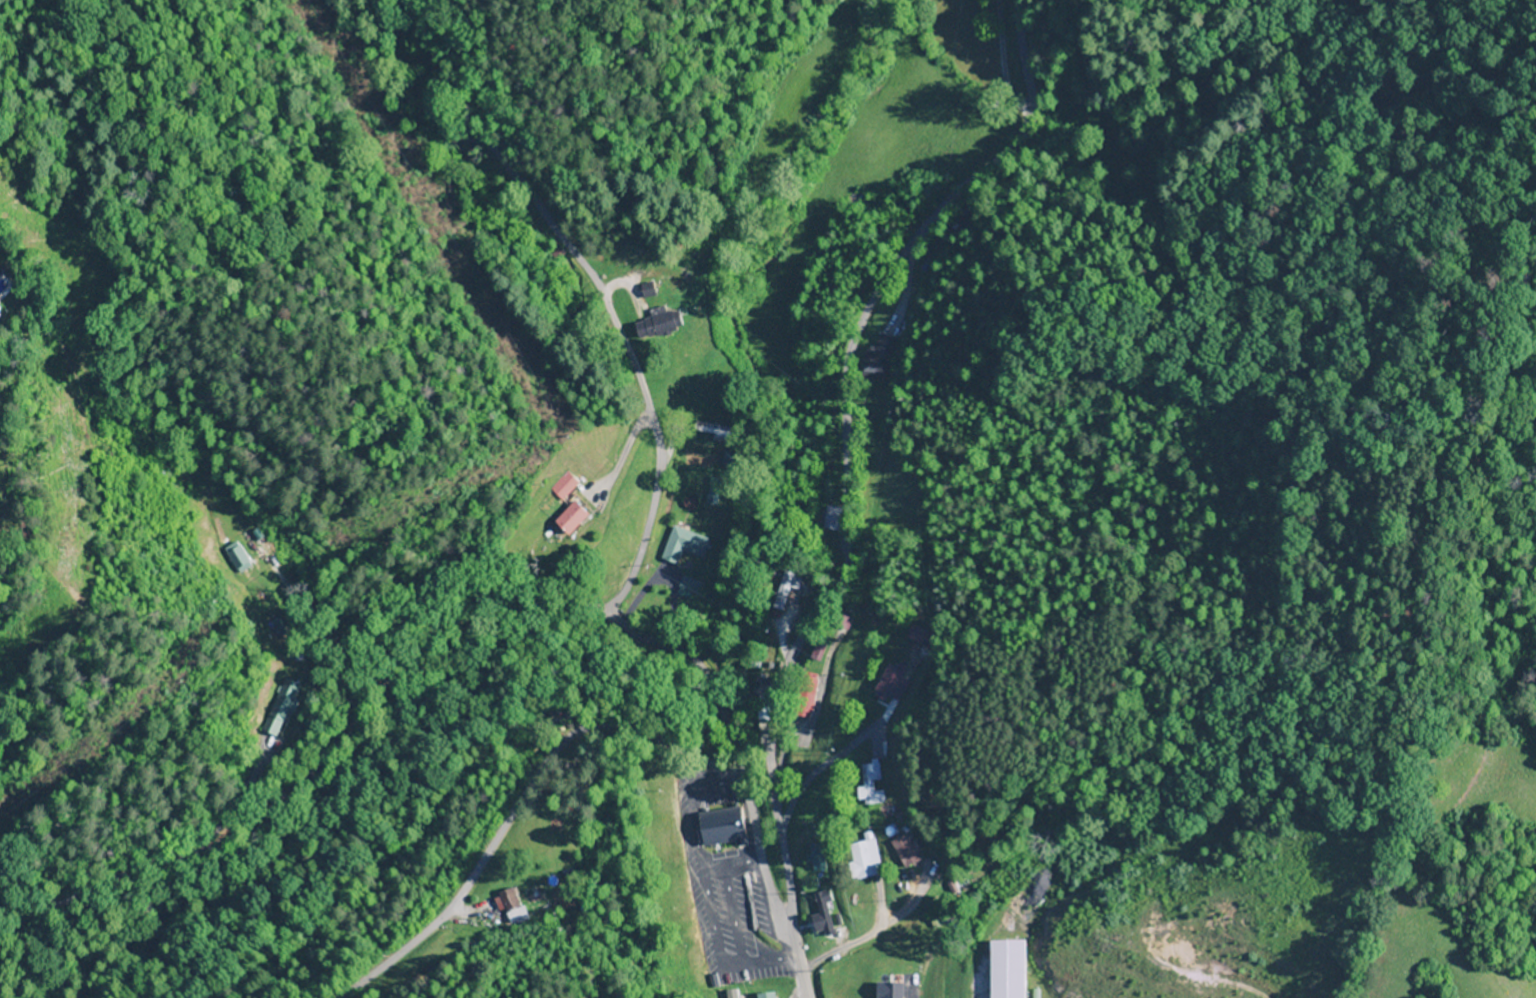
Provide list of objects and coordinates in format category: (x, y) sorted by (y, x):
building: (879, 355)
road: (841, 438)
road: (659, 461)
building: (563, 486)
building: (823, 518)
building: (569, 519)
building: (681, 546)
building: (237, 562)
building: (784, 590)
road: (481, 616)
building: (913, 653)
building: (285, 709)
building: (869, 784)
road: (518, 805)
building: (715, 828)
building: (903, 852)
building: (814, 857)
building: (861, 859)
building: (821, 917)
building: (887, 990)
building: (763, 995)

